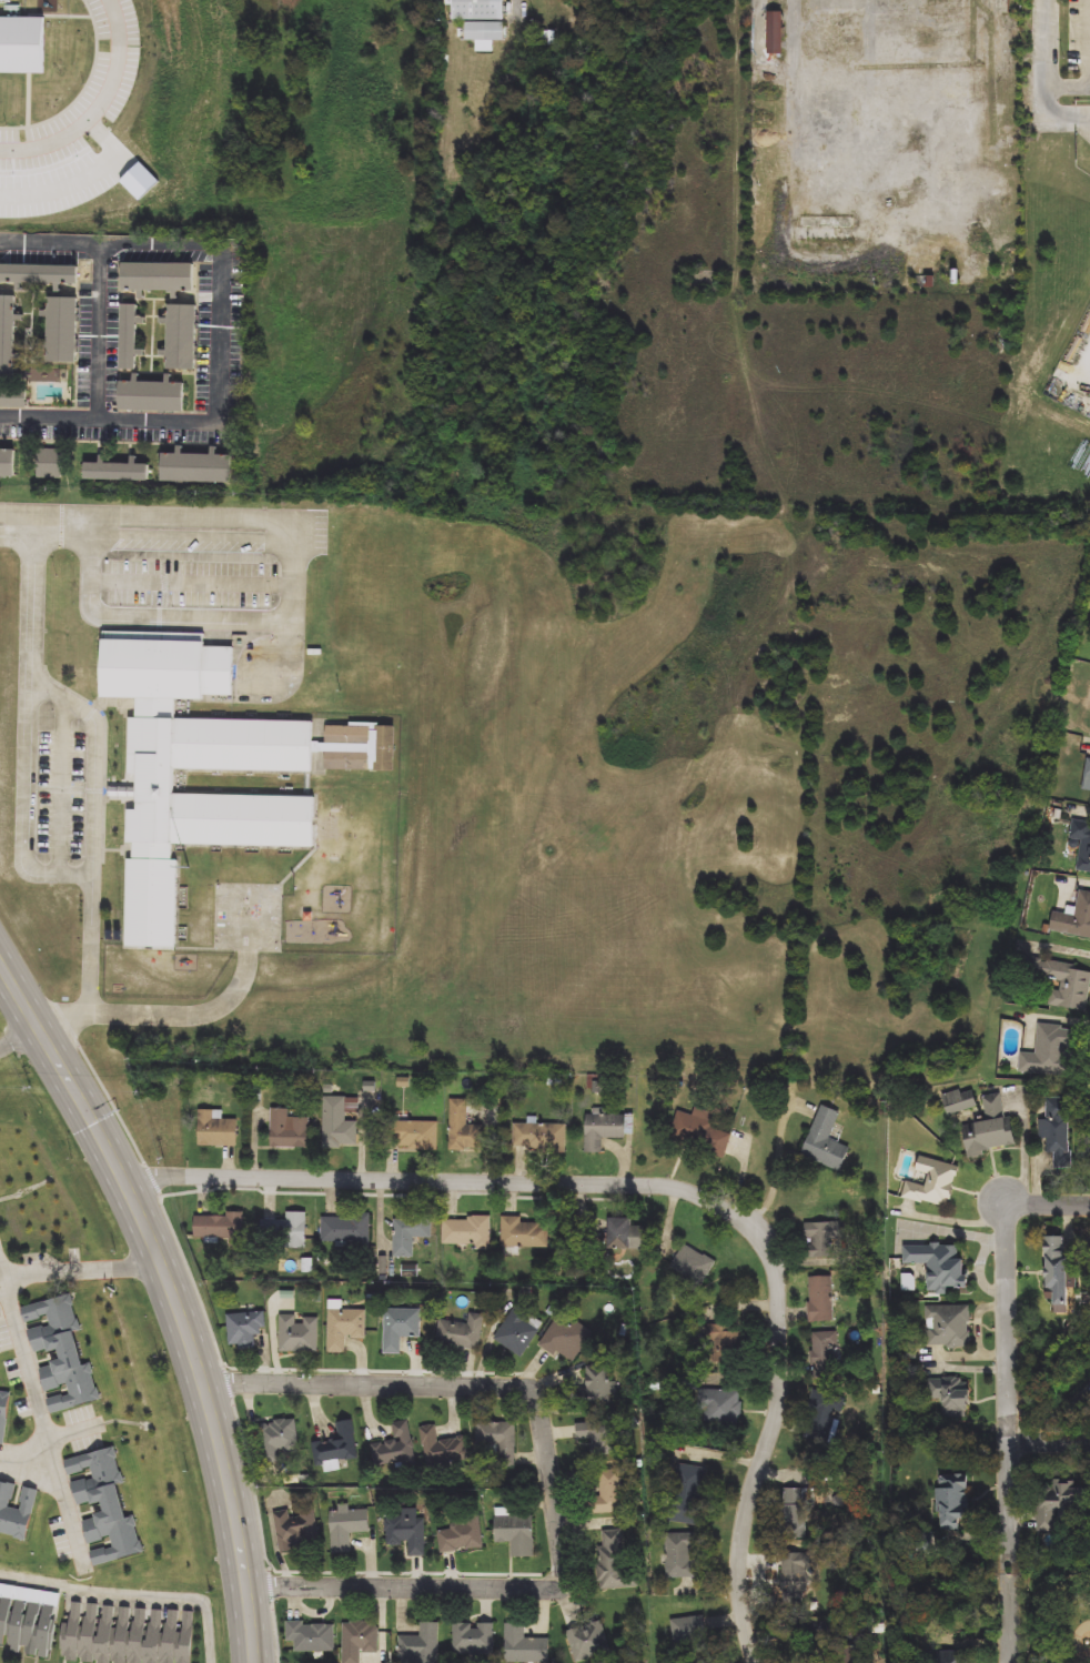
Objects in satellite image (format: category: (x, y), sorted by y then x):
building: (478, 10)
building: (484, 31)
building: (776, 32)
parking lot: (1078, 39)
road: (1088, 43)
building: (19, 44)
road: (1050, 70)
road: (1070, 88)
road: (94, 103)
building: (3, 105)
road: (1082, 115)
parking lot: (71, 127)
building: (7, 139)
building: (3, 171)
road: (82, 174)
building: (139, 183)
road: (201, 245)
building: (39, 275)
building: (158, 278)
building: (60, 330)
road: (102, 331)
building: (8, 335)
building: (182, 336)
building: (128, 337)
building: (151, 395)
building: (13, 396)
road: (111, 420)
building: (8, 462)
building: (49, 464)
building: (195, 467)
building: (117, 471)
road: (165, 530)
road: (191, 553)
parking lot: (191, 572)
road: (191, 581)
road: (190, 618)
road: (97, 762)
building: (205, 767)
building: (1087, 776)
road: (61, 786)
parking lot: (59, 793)
road: (27, 797)
building: (1082, 844)
building: (1074, 919)
building: (1066, 984)
road: (212, 1012)
road: (61, 1019)
road: (19, 1037)
building: (1050, 1051)
road: (110, 1099)
building: (959, 1101)
building: (340, 1121)
building: (464, 1127)
building: (989, 1127)
building: (289, 1128)
building: (215, 1129)
building: (604, 1129)
building: (1058, 1131)
building: (697, 1133)
building: (416, 1135)
building: (539, 1136)
building: (826, 1140)
road: (779, 1166)
road: (151, 1177)
road: (452, 1182)
building: (931, 1182)
road: (387, 1192)
road: (1048, 1206)
building: (220, 1226)
building: (347, 1229)
building: (467, 1230)
building: (286, 1231)
building: (618, 1232)
building: (524, 1233)
building: (410, 1234)
building: (827, 1237)
building: (1054, 1261)
building: (694, 1264)
building: (938, 1264)
road: (79, 1269)
road: (192, 1277)
road: (174, 1296)
building: (820, 1299)
building: (948, 1326)
building: (344, 1327)
building: (400, 1327)
building: (245, 1330)
building: (519, 1331)
building: (462, 1332)
building: (299, 1334)
building: (566, 1338)
building: (723, 1339)
building: (60, 1352)
building: (825, 1355)
road: (370, 1368)
road: (226, 1381)
road: (1010, 1389)
road: (34, 1390)
building: (595, 1391)
building: (949, 1397)
building: (720, 1408)
building: (3, 1415)
building: (824, 1418)
building: (596, 1437)
building: (280, 1440)
building: (498, 1441)
road: (1050, 1443)
building: (339, 1444)
building: (396, 1448)
building: (443, 1448)
road: (766, 1448)
road: (548, 1468)
road: (253, 1483)
building: (608, 1493)
building: (688, 1493)
building: (952, 1501)
building: (1059, 1502)
building: (103, 1504)
building: (809, 1504)
building: (16, 1511)
road: (71, 1514)
building: (346, 1526)
building: (297, 1528)
building: (407, 1531)
building: (516, 1533)
building: (461, 1535)
building: (680, 1556)
building: (615, 1562)
road: (404, 1570)
building: (789, 1574)
road: (269, 1583)
road: (131, 1591)
road: (1011, 1617)
building: (27, 1627)
road: (275, 1631)
building: (71, 1633)
building: (87, 1633)
building: (104, 1634)
building: (121, 1634)
building: (137, 1634)
building: (153, 1635)
building: (170, 1635)
building: (689, 1635)
building: (186, 1636)
building: (312, 1636)
building: (474, 1639)
building: (359, 1641)
building: (589, 1641)
building: (421, 1645)
building: (524, 1645)
building: (852, 1656)
building: (949, 1656)

